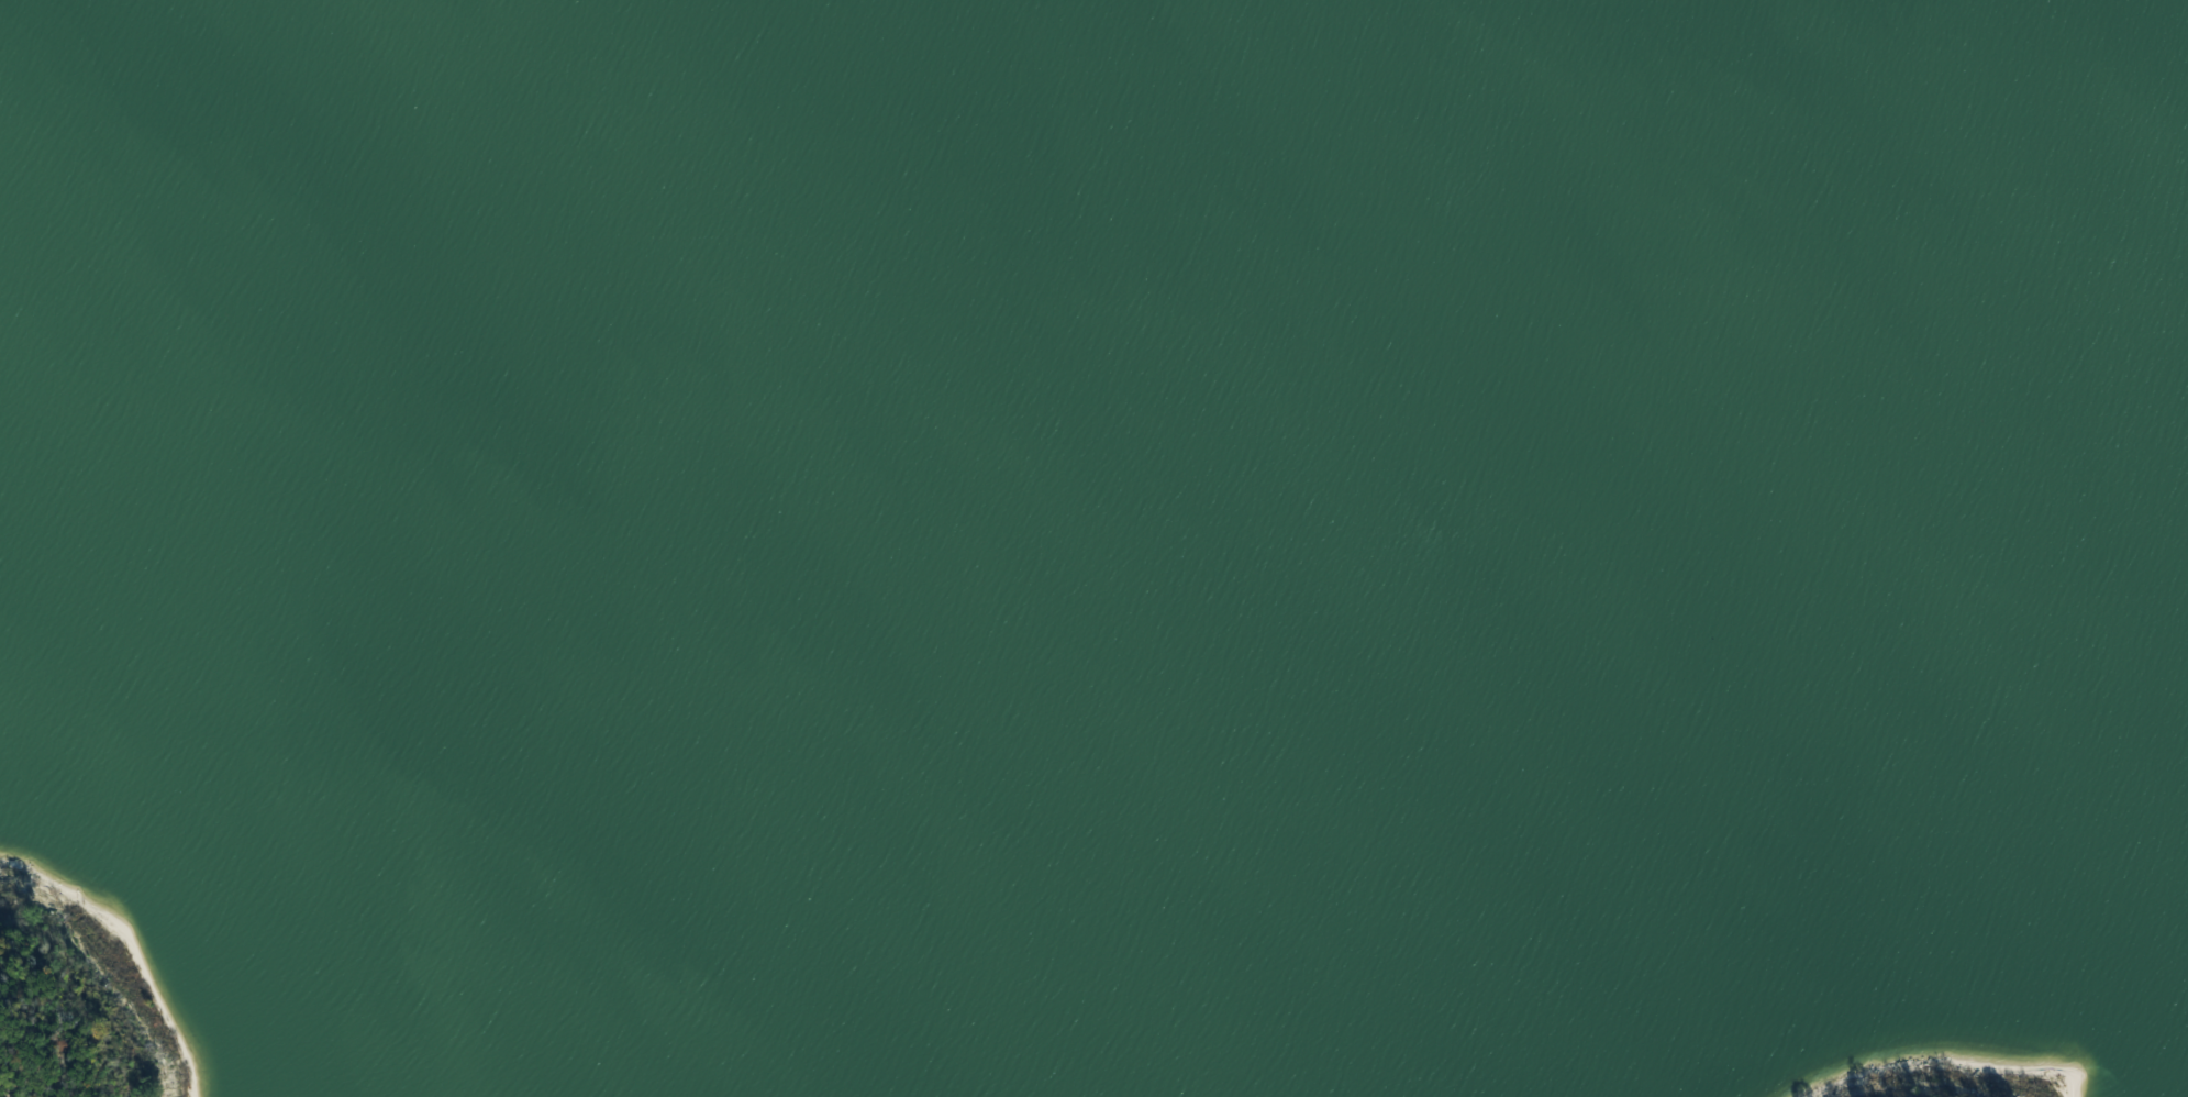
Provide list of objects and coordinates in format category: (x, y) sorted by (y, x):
river: (1666, 67)
park: (71, 1002)

